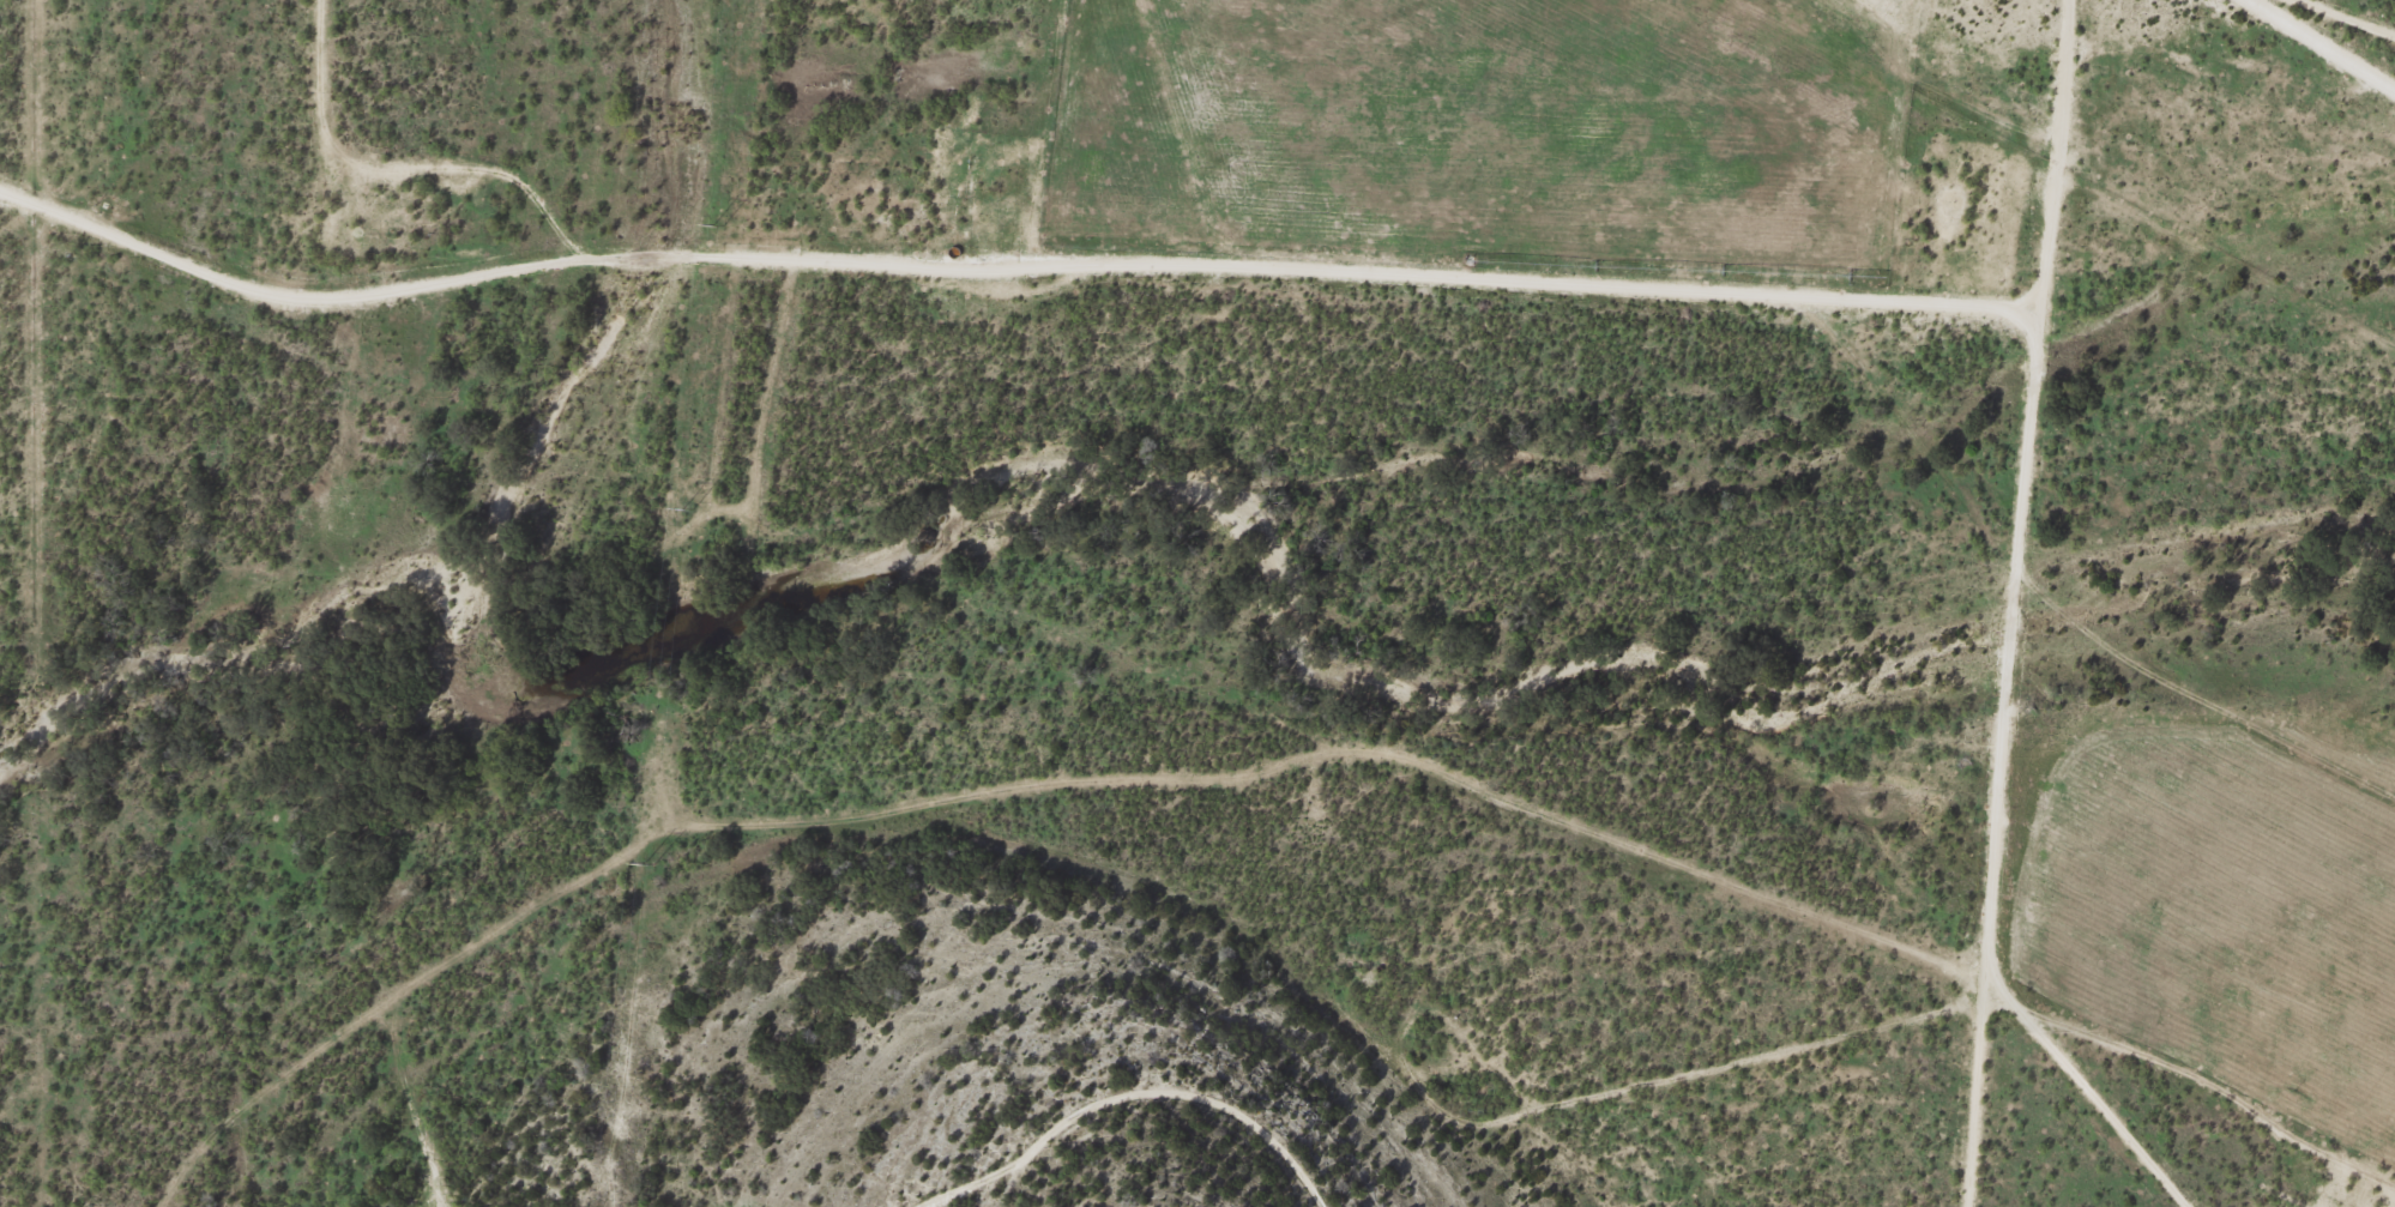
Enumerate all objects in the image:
road: (2342, 19)
road: (2319, 35)
power tower: (722, 224)
road: (1514, 243)
power tower: (690, 509)
river: (512, 532)
road: (2013, 602)
power tower: (652, 863)

